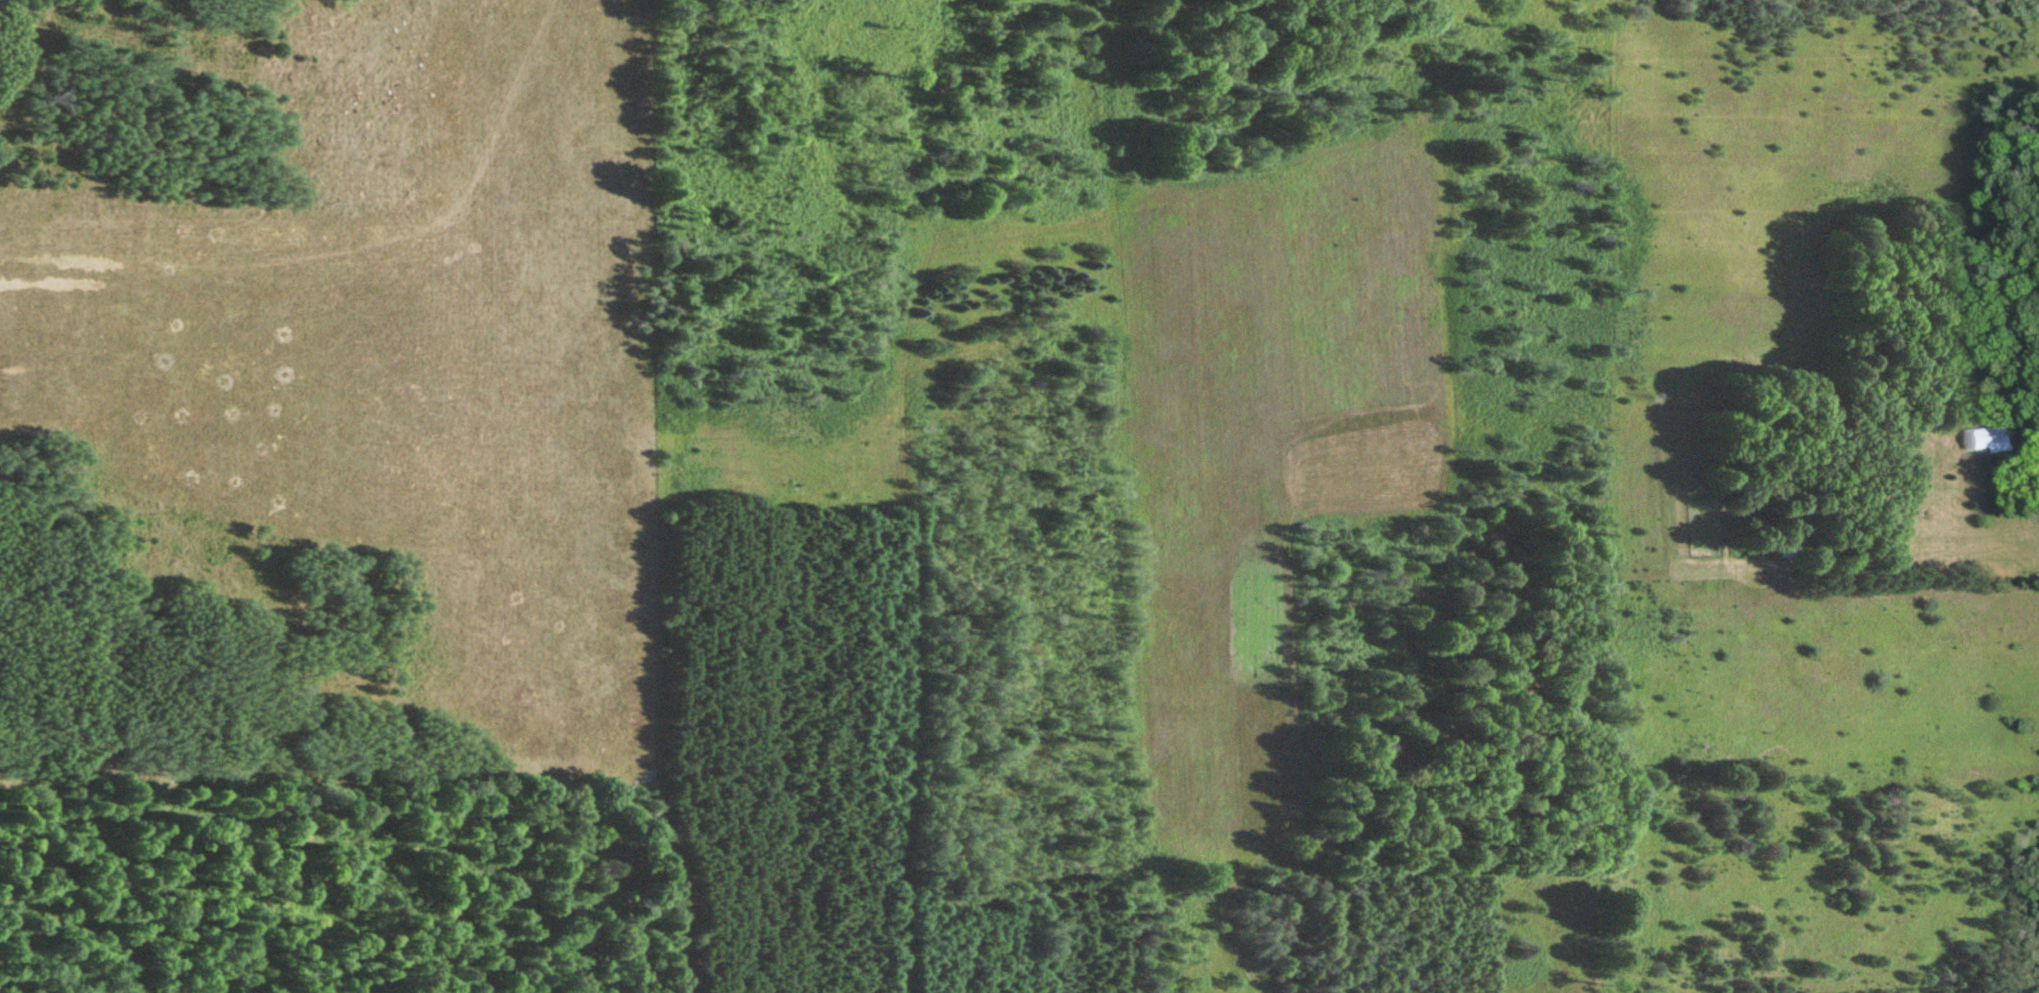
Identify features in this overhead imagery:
building: (1986, 440)

